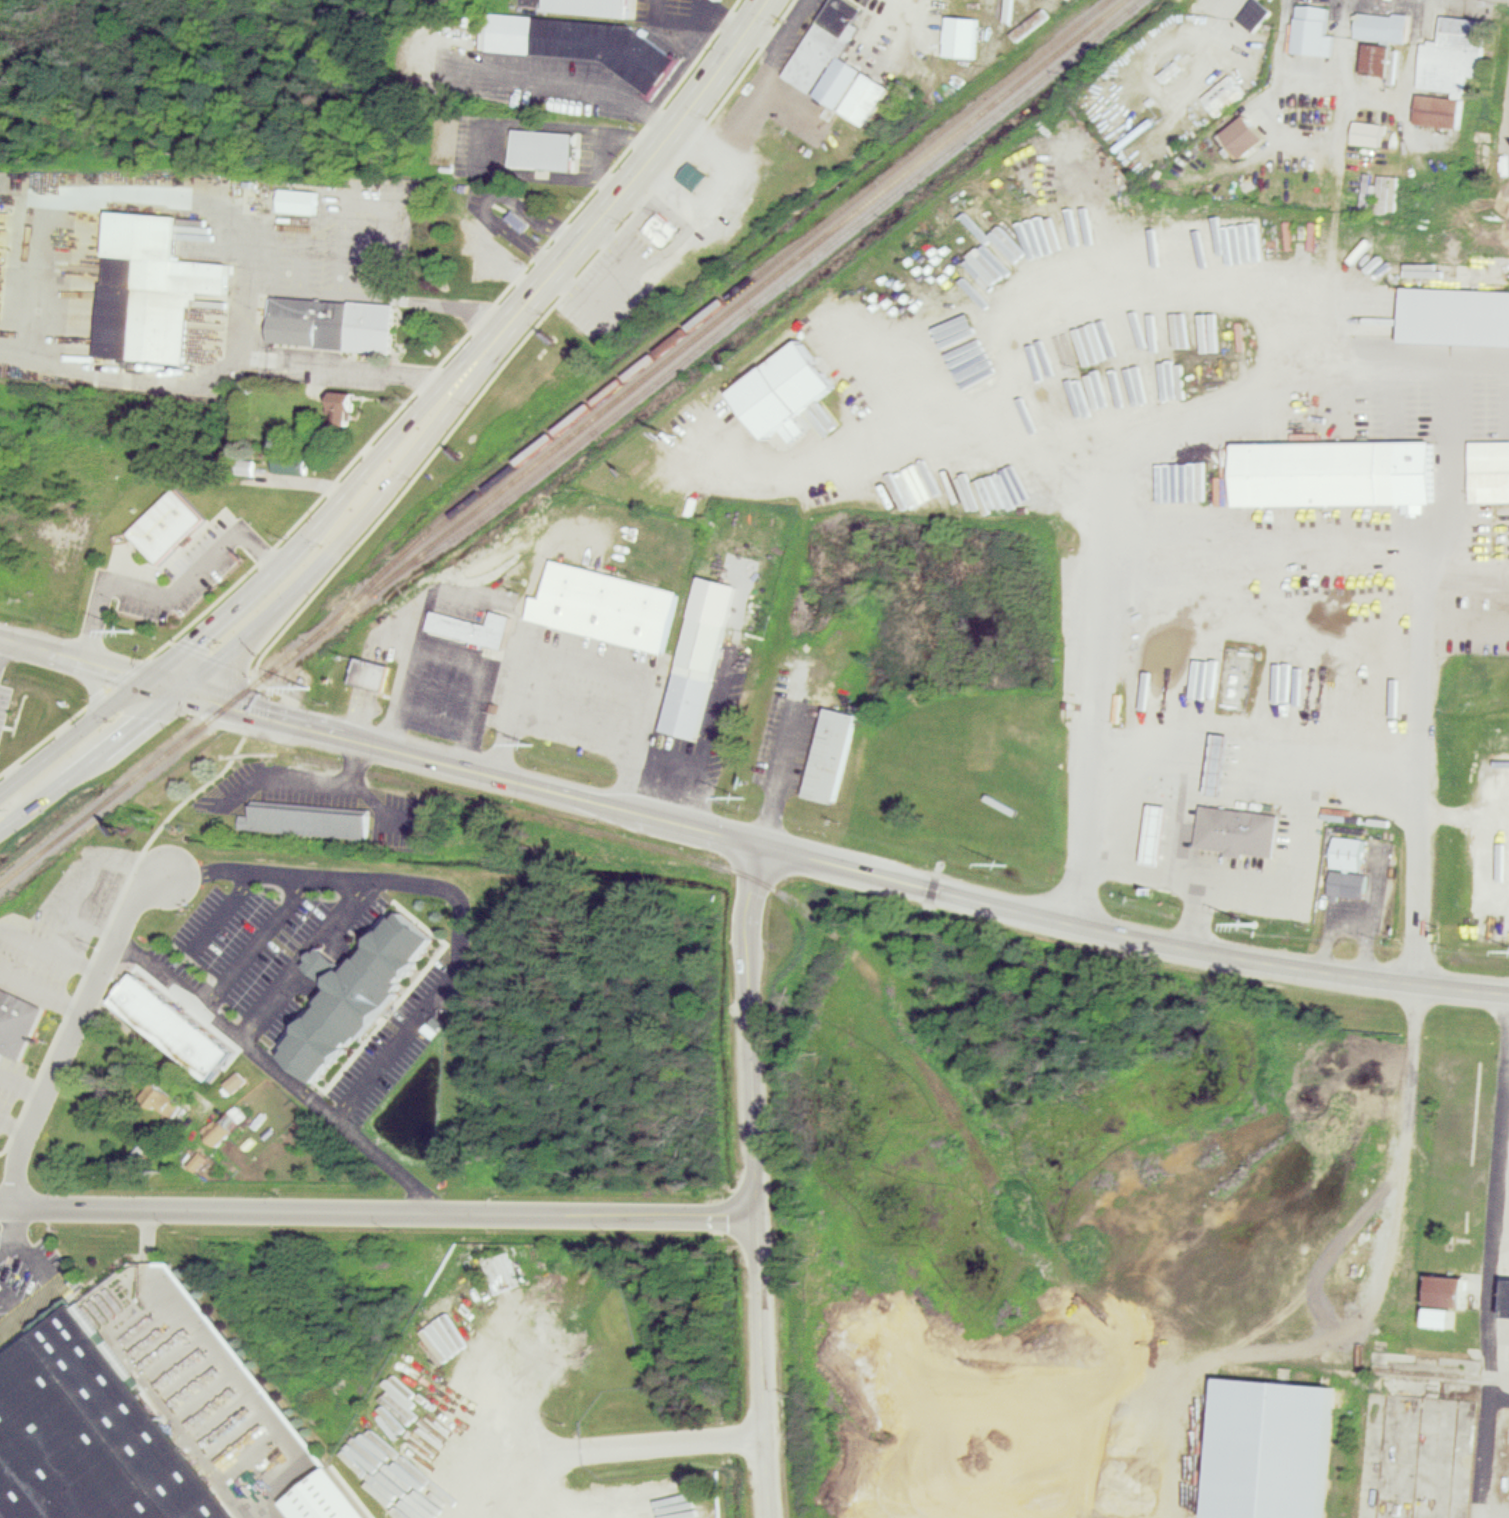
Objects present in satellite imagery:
building: (594, 6)
building: (1256, 13)
building: (1382, 24)
road: (890, 25)
road: (679, 26)
building: (1311, 28)
road: (781, 36)
building: (964, 37)
road: (1339, 41)
building: (585, 44)
road: (1409, 50)
building: (1377, 57)
building: (840, 64)
building: (1447, 68)
road: (571, 81)
building: (1224, 92)
road: (1268, 97)
road: (1505, 104)
road: (497, 130)
building: (1367, 131)
building: (1247, 134)
road: (1336, 146)
building: (545, 147)
road: (641, 168)
building: (693, 179)
road: (713, 189)
road: (136, 190)
building: (299, 199)
road: (485, 199)
building: (518, 220)
building: (664, 230)
road: (1252, 277)
road: (611, 280)
building: (151, 283)
railway: (762, 298)
railway: (713, 309)
railway: (727, 313)
building: (1457, 313)
building: (332, 321)
road: (1480, 360)
road: (226, 363)
road: (1452, 364)
building: (788, 386)
road: (900, 388)
building: (347, 409)
building: (296, 464)
building: (1491, 467)
building: (1339, 469)
road: (1093, 488)
building: (171, 521)
road: (268, 577)
road: (1465, 577)
road: (168, 591)
road: (280, 606)
building: (610, 606)
road: (1421, 607)
road: (1465, 622)
building: (477, 625)
road: (0, 638)
building: (701, 654)
road: (444, 657)
road: (588, 662)
building: (375, 672)
traffic signals: (153, 677)
road: (91, 679)
traffic signals: (194, 688)
building: (21, 700)
road: (430, 712)
road: (574, 716)
traffic signals: (88, 726)
building: (9, 737)
road: (1202, 750)
road: (703, 752)
building: (835, 752)
railway: (164, 756)
building: (1224, 762)
road: (778, 775)
road: (200, 790)
building: (947, 801)
road: (1503, 808)
road: (1463, 811)
road: (1305, 817)
building: (312, 820)
building: (1239, 828)
building: (1161, 832)
road: (748, 843)
building: (1351, 850)
road: (1179, 874)
road: (77, 883)
building: (1347, 883)
road: (224, 909)
road: (255, 941)
road: (49, 949)
road: (304, 958)
road: (41, 986)
building: (365, 999)
road: (420, 1014)
building: (19, 1022)
building: (178, 1023)
road: (72, 1029)
building: (238, 1081)
road: (21, 1084)
building: (174, 1103)
building: (229, 1125)
road: (12, 1127)
building: (135, 1160)
road: (387, 1168)
road: (754, 1181)
road: (377, 1212)
building: (1389, 1217)
road: (7, 1246)
road: (41, 1275)
road: (1486, 1277)
parking lot: (28, 1278)
building: (1455, 1290)
building: (1507, 1296)
road: (1348, 1314)
building: (1446, 1316)
road: (1498, 1381)
building: (95, 1436)
road: (604, 1444)
building: (1273, 1447)
building: (1379, 1451)
building: (333, 1497)

